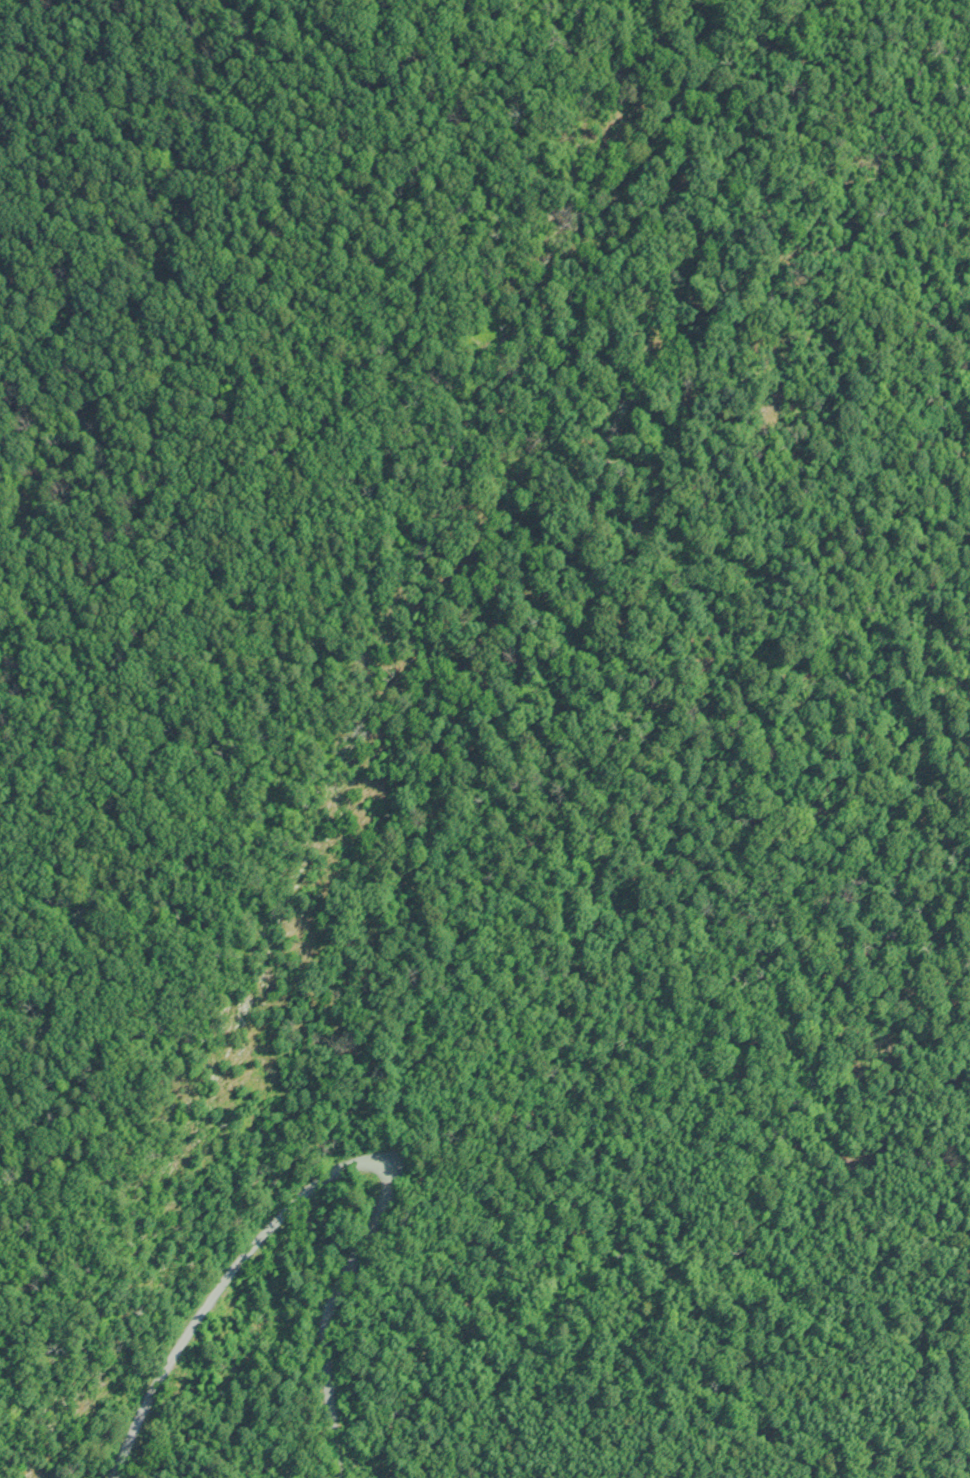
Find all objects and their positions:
road: (262, 360)
road: (332, 1180)

